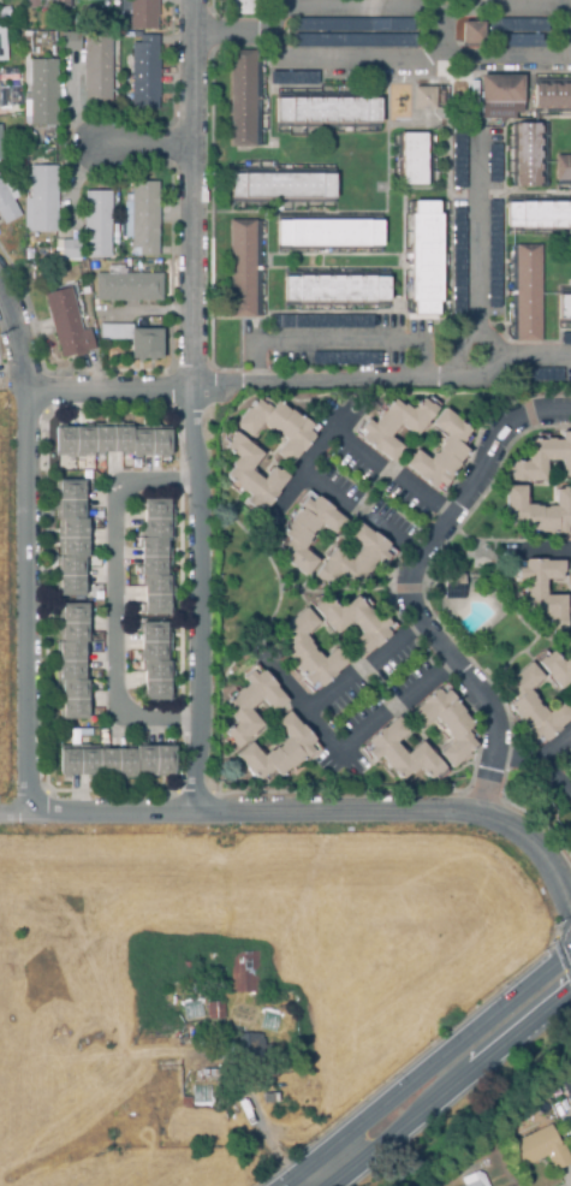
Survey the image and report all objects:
building: (31, 4)
building: (59, 4)
road: (410, 5)
building: (242, 7)
building: (142, 14)
building: (75, 24)
building: (519, 24)
building: (353, 25)
road: (231, 30)
building: (471, 34)
building: (352, 42)
building: (519, 42)
building: (70, 43)
building: (1, 53)
road: (411, 53)
building: (97, 67)
building: (144, 73)
building: (292, 78)
building: (41, 93)
building: (474, 97)
building: (500, 97)
building: (552, 97)
building: (424, 99)
building: (242, 103)
building: (6, 105)
building: (326, 111)
road: (141, 150)
building: (1, 152)
building: (458, 156)
building: (527, 156)
building: (412, 160)
building: (494, 167)
building: (563, 168)
building: (281, 186)
building: (42, 200)
building: (7, 206)
building: (537, 215)
building: (143, 219)
building: (96, 225)
building: (328, 233)
road: (471, 247)
building: (69, 250)
building: (493, 255)
building: (424, 259)
building: (458, 262)
building: (242, 268)
building: (127, 287)
building: (334, 290)
building: (527, 293)
building: (564, 308)
building: (325, 322)
building: (66, 326)
building: (566, 339)
building: (135, 340)
road: (338, 340)
building: (349, 360)
building: (542, 375)
road: (298, 379)
road: (190, 405)
building: (276, 427)
building: (393, 427)
building: (113, 440)
road: (315, 451)
building: (440, 452)
building: (543, 459)
building: (251, 475)
building: (540, 511)
building: (307, 533)
building: (72, 538)
road: (500, 548)
road: (25, 557)
building: (157, 557)
building: (352, 558)
building: (570, 580)
road: (410, 583)
building: (453, 587)
building: (542, 592)
road: (114, 601)
building: (353, 623)
building: (570, 625)
building: (309, 651)
building: (73, 662)
building: (157, 662)
building: (557, 669)
road: (287, 686)
building: (570, 699)
building: (169, 706)
building: (249, 706)
building: (533, 706)
building: (446, 724)
road: (320, 729)
building: (278, 749)
building: (399, 752)
road: (536, 757)
building: (117, 761)
road: (557, 771)
road: (310, 812)
building: (207, 965)
building: (185, 966)
building: (166, 967)
building: (248, 971)
building: (218, 1010)
building: (59, 1034)
building: (248, 1046)
road: (434, 1065)
building: (279, 1067)
building: (212, 1075)
building: (566, 1086)
road: (446, 1090)
building: (269, 1098)
building: (184, 1103)
road: (264, 1137)
building: (537, 1150)
building: (472, 1179)

